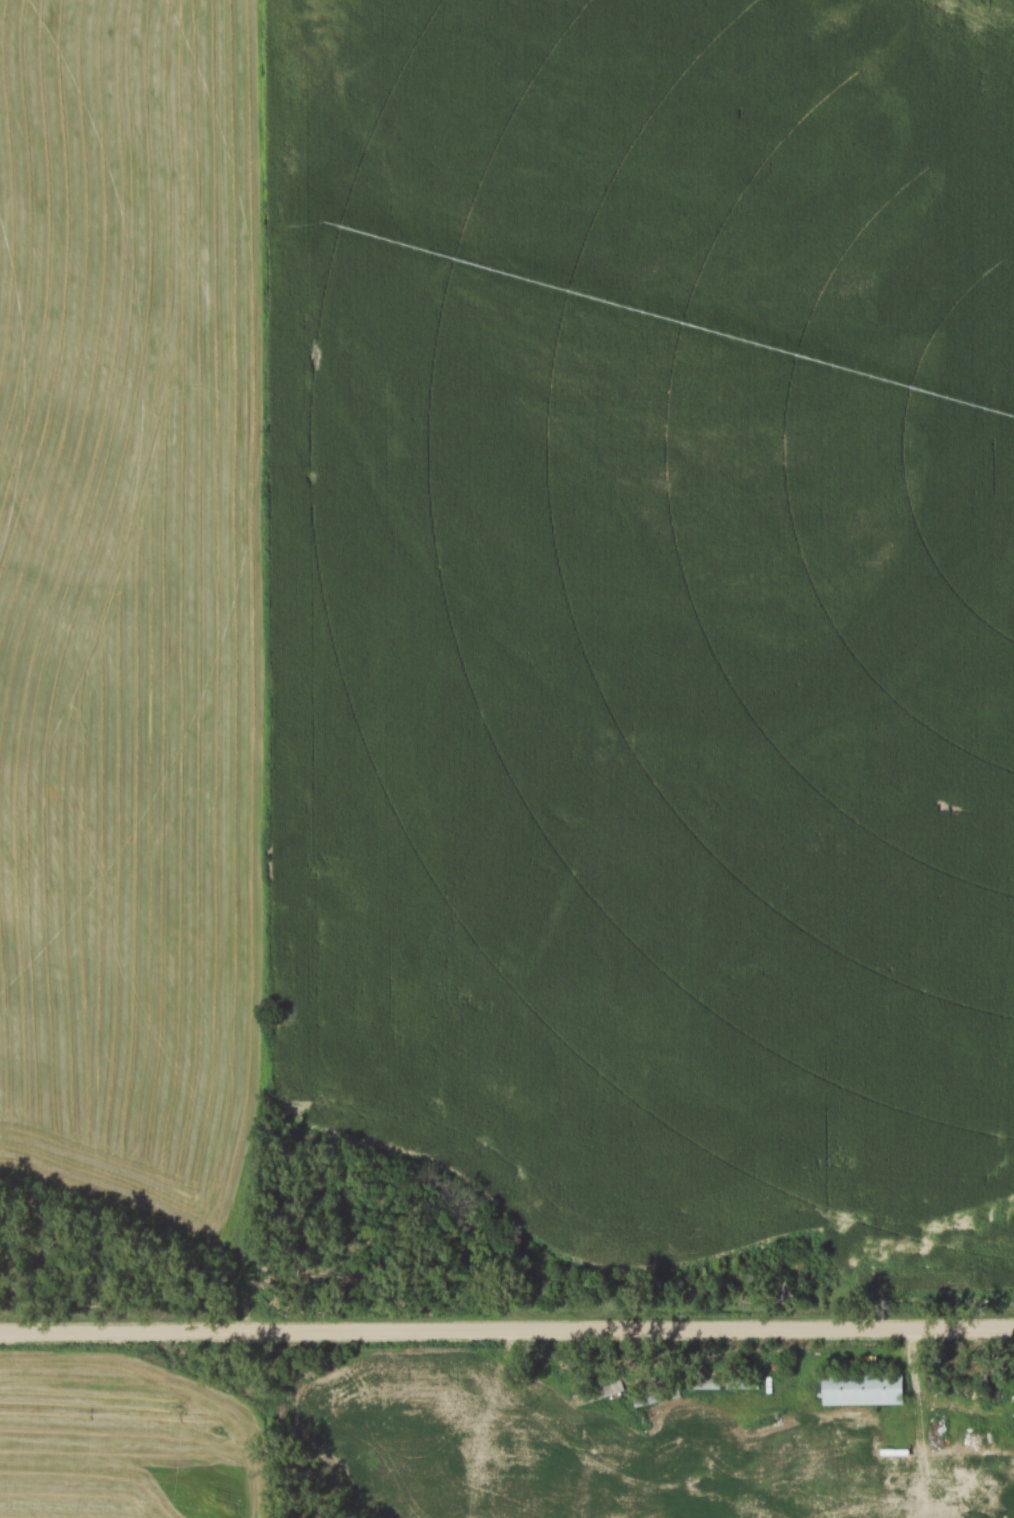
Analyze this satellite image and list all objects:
road: (506, 1331)
building: (741, 1384)
building: (857, 1390)
building: (594, 1395)
road: (991, 1414)
building: (962, 1479)

